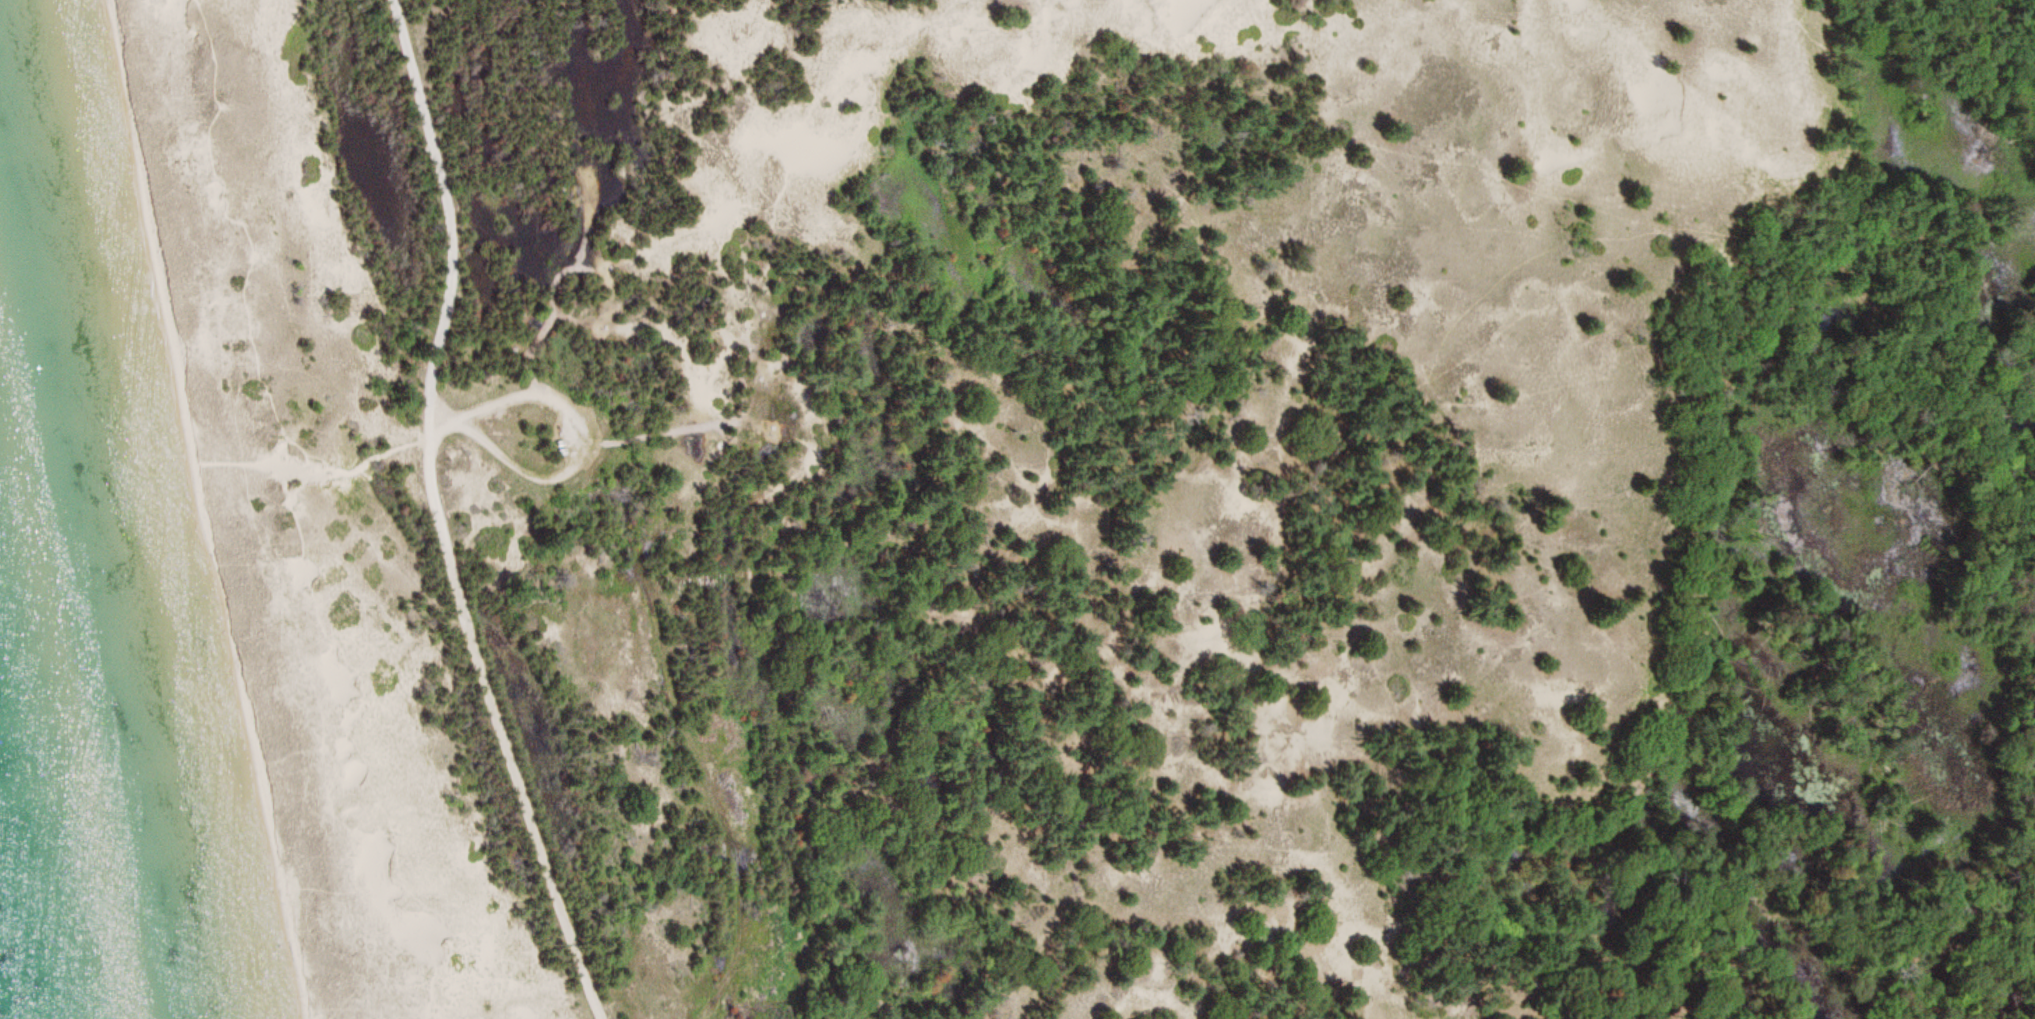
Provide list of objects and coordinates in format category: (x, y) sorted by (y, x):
road: (587, 445)
park: (1075, 499)
road: (441, 517)
road: (908, 999)

